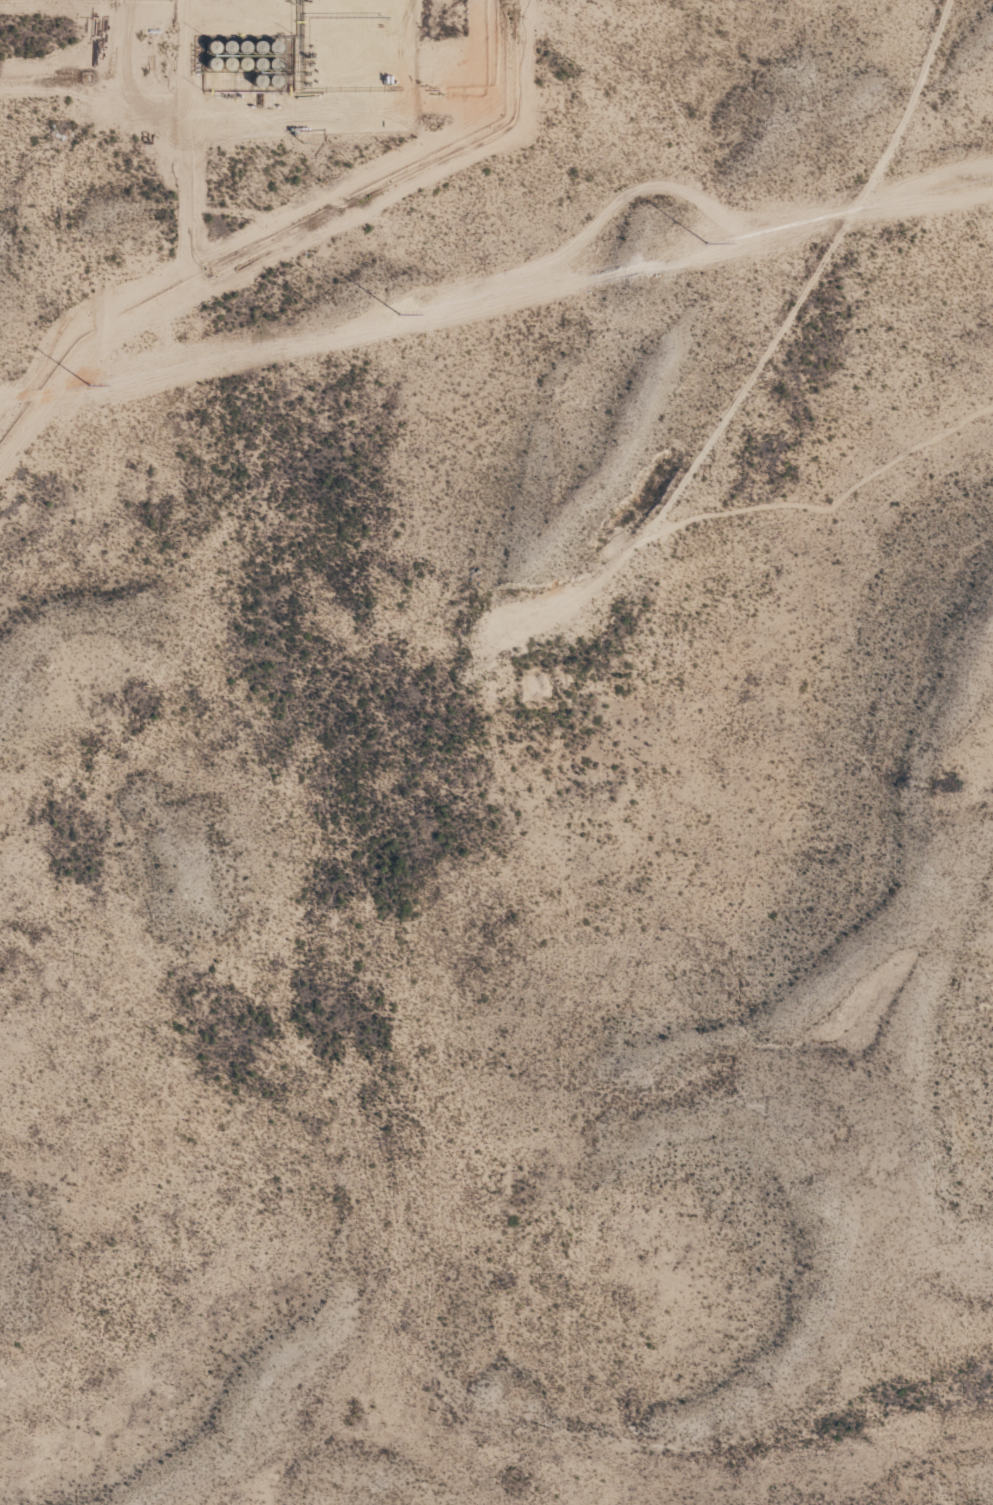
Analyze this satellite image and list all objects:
power tower: (711, 243)
road: (818, 289)
power tower: (402, 314)
power tower: (93, 386)

